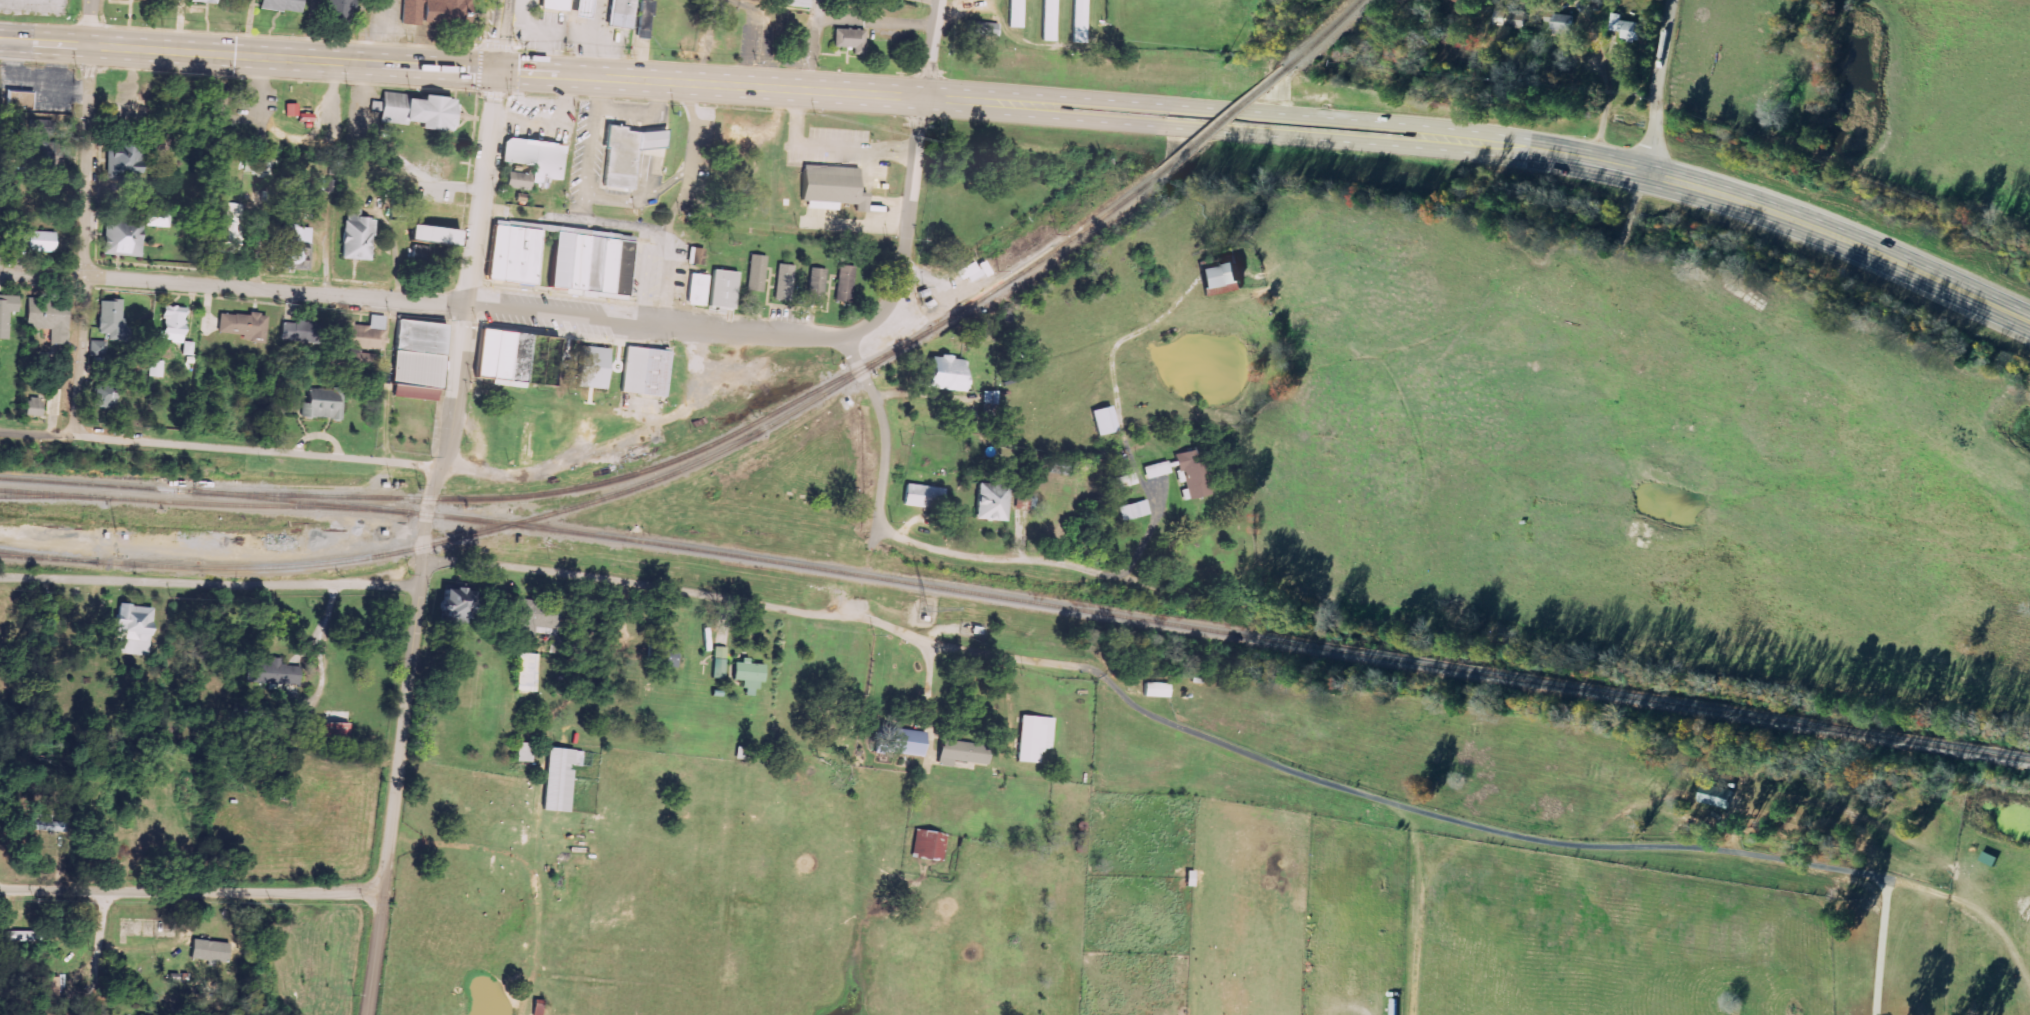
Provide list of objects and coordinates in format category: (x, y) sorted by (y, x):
building: (202, 1)
building: (792, 2)
building: (554, 4)
building: (281, 5)
building: (338, 8)
building: (451, 11)
building: (411, 12)
building: (620, 13)
building: (1015, 13)
building: (643, 19)
building: (1049, 20)
road: (94, 23)
building: (1561, 23)
building: (1078, 24)
building: (1626, 26)
building: (982, 28)
railway: (1323, 32)
road: (501, 35)
building: (849, 38)
road: (931, 48)
road: (248, 55)
traffic signals: (497, 71)
road: (1655, 86)
road: (774, 87)
building: (16, 101)
building: (291, 109)
road: (1243, 109)
building: (418, 111)
railway: (1227, 117)
road: (1241, 131)
building: (625, 154)
building: (534, 157)
building: (122, 162)
building: (517, 180)
road: (1672, 180)
building: (832, 186)
building: (157, 220)
building: (231, 227)
building: (356, 234)
building: (432, 234)
building: (121, 236)
building: (40, 241)
road: (87, 241)
road: (904, 249)
building: (297, 250)
building: (511, 253)
building: (588, 262)
building: (972, 271)
building: (756, 273)
building: (1219, 275)
building: (785, 280)
building: (845, 283)
road: (232, 286)
building: (816, 286)
building: (696, 289)
building: (723, 289)
road: (1965, 293)
building: (6, 312)
road: (462, 315)
building: (109, 317)
building: (48, 319)
building: (172, 323)
building: (243, 326)
road: (652, 327)
building: (308, 331)
building: (360, 343)
building: (97, 348)
building: (186, 348)
building: (492, 354)
building: (417, 360)
building: (592, 367)
building: (156, 368)
building: (645, 371)
building: (945, 373)
railway: (852, 375)
building: (104, 396)
building: (323, 404)
building: (32, 407)
building: (1103, 421)
road: (220, 448)
building: (1156, 469)
building: (1194, 473)
railway: (587, 484)
railway: (203, 491)
road: (880, 491)
railway: (54, 496)
building: (923, 496)
building: (991, 502)
railway: (203, 504)
building: (1134, 510)
road: (1148, 536)
railway: (47, 555)
road: (999, 559)
railway: (258, 567)
road: (209, 585)
road: (637, 585)
building: (454, 605)
building: (537, 618)
building: (132, 629)
railway: (1219, 629)
road: (912, 637)
building: (664, 655)
building: (719, 661)
road: (1032, 662)
building: (527, 672)
building: (271, 673)
building: (748, 675)
building: (1156, 690)
building: (335, 733)
building: (1034, 738)
building: (904, 742)
building: (524, 752)
building: (961, 753)
building: (559, 778)
road: (394, 786)
building: (1715, 796)
building: (928, 845)
road: (190, 893)
building: (209, 951)
road: (96, 953)
building: (50, 988)

